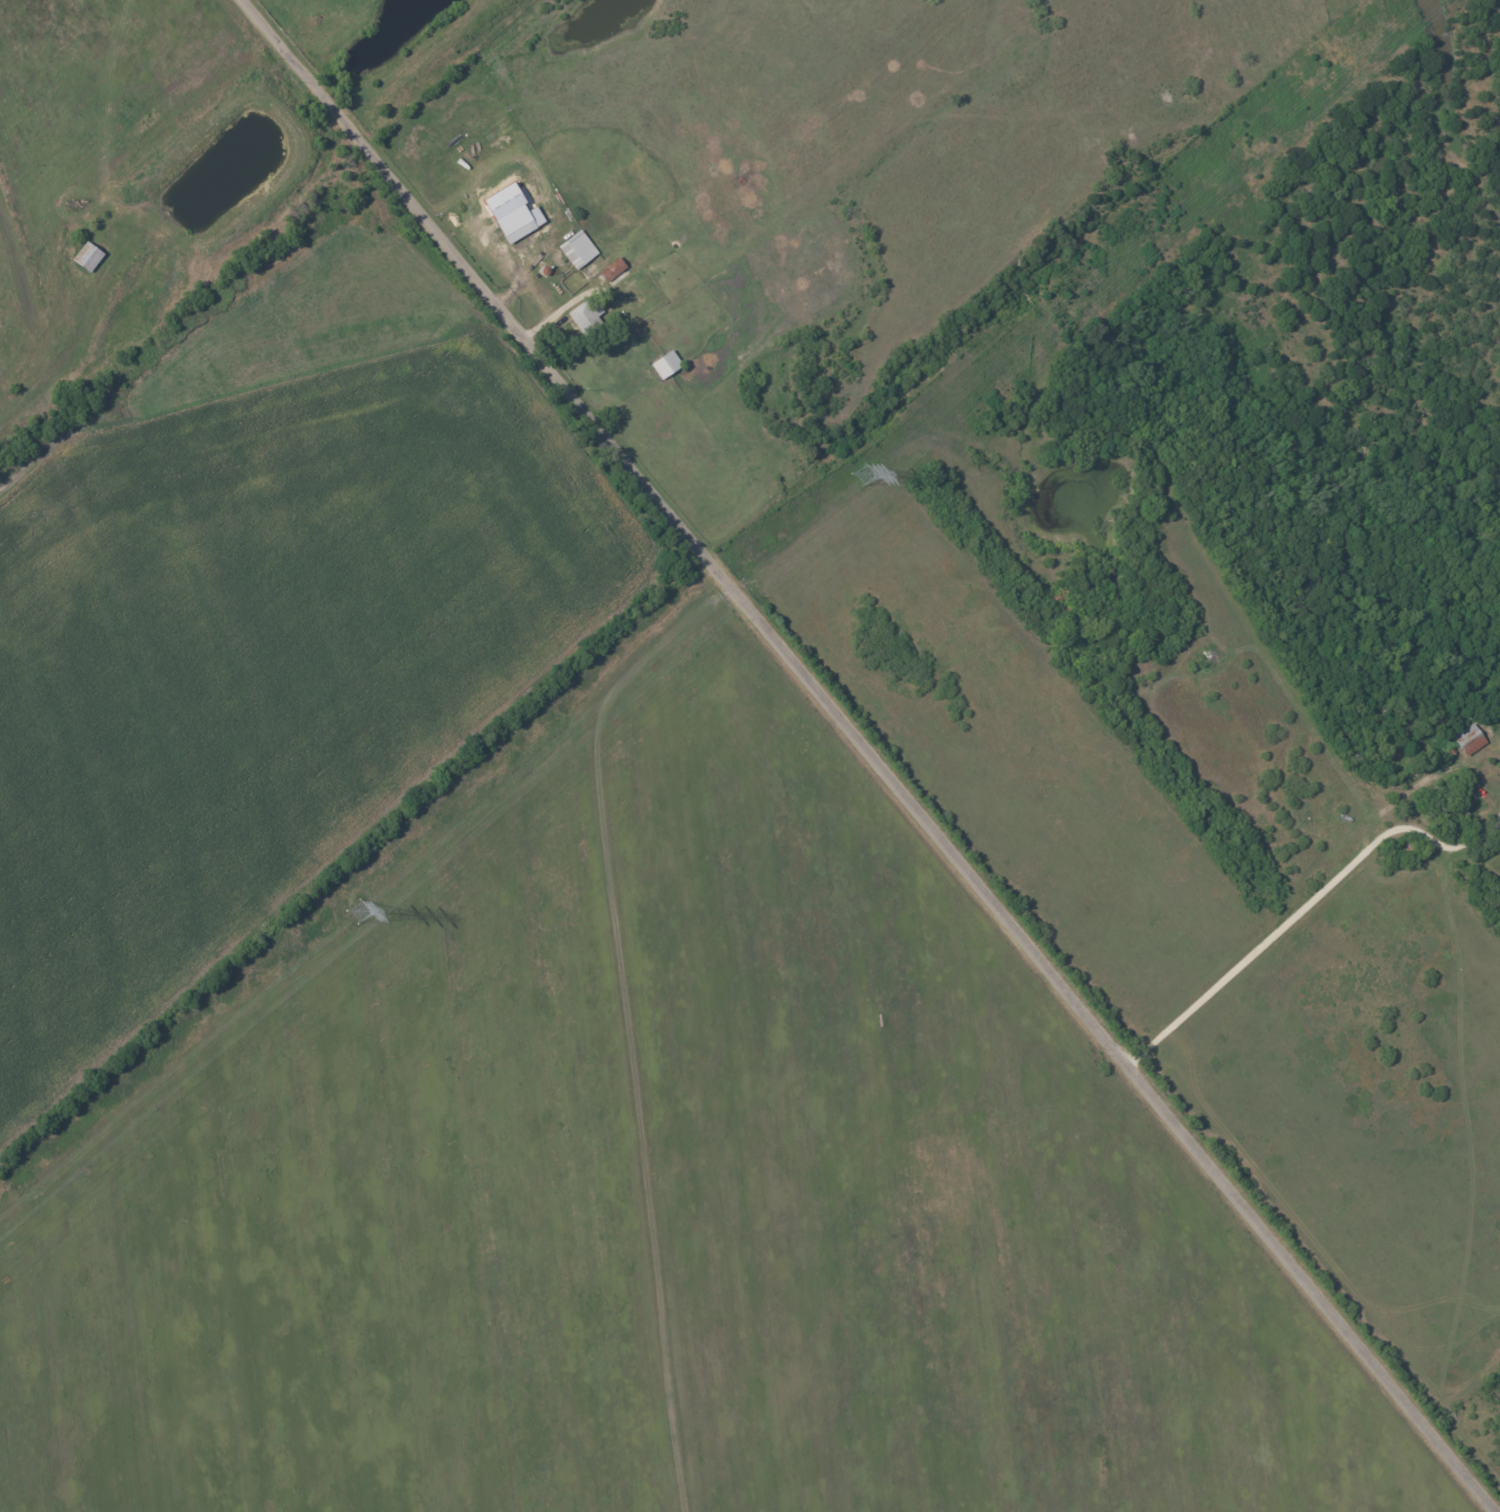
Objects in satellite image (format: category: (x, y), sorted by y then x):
building: (512, 213)
building: (577, 249)
building: (87, 256)
building: (614, 271)
building: (586, 316)
building: (666, 364)
power tower: (867, 476)
building: (1469, 739)
road: (869, 754)
road: (1496, 820)
road: (1496, 826)
road: (1435, 844)
power tower: (368, 907)
road: (1253, 948)

